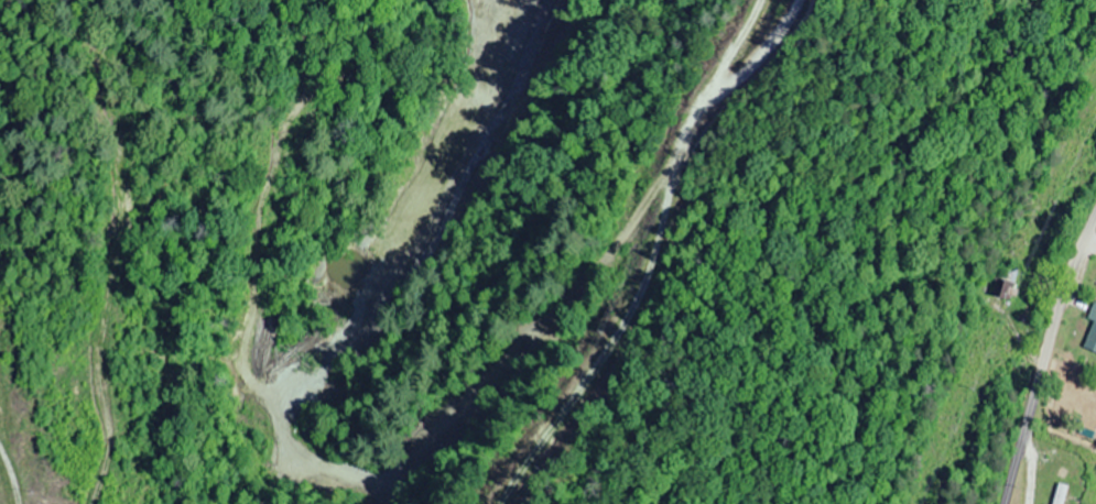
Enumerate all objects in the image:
road: (729, 91)
building: (1001, 291)
building: (1090, 330)
road: (1038, 349)
building: (1055, 493)

